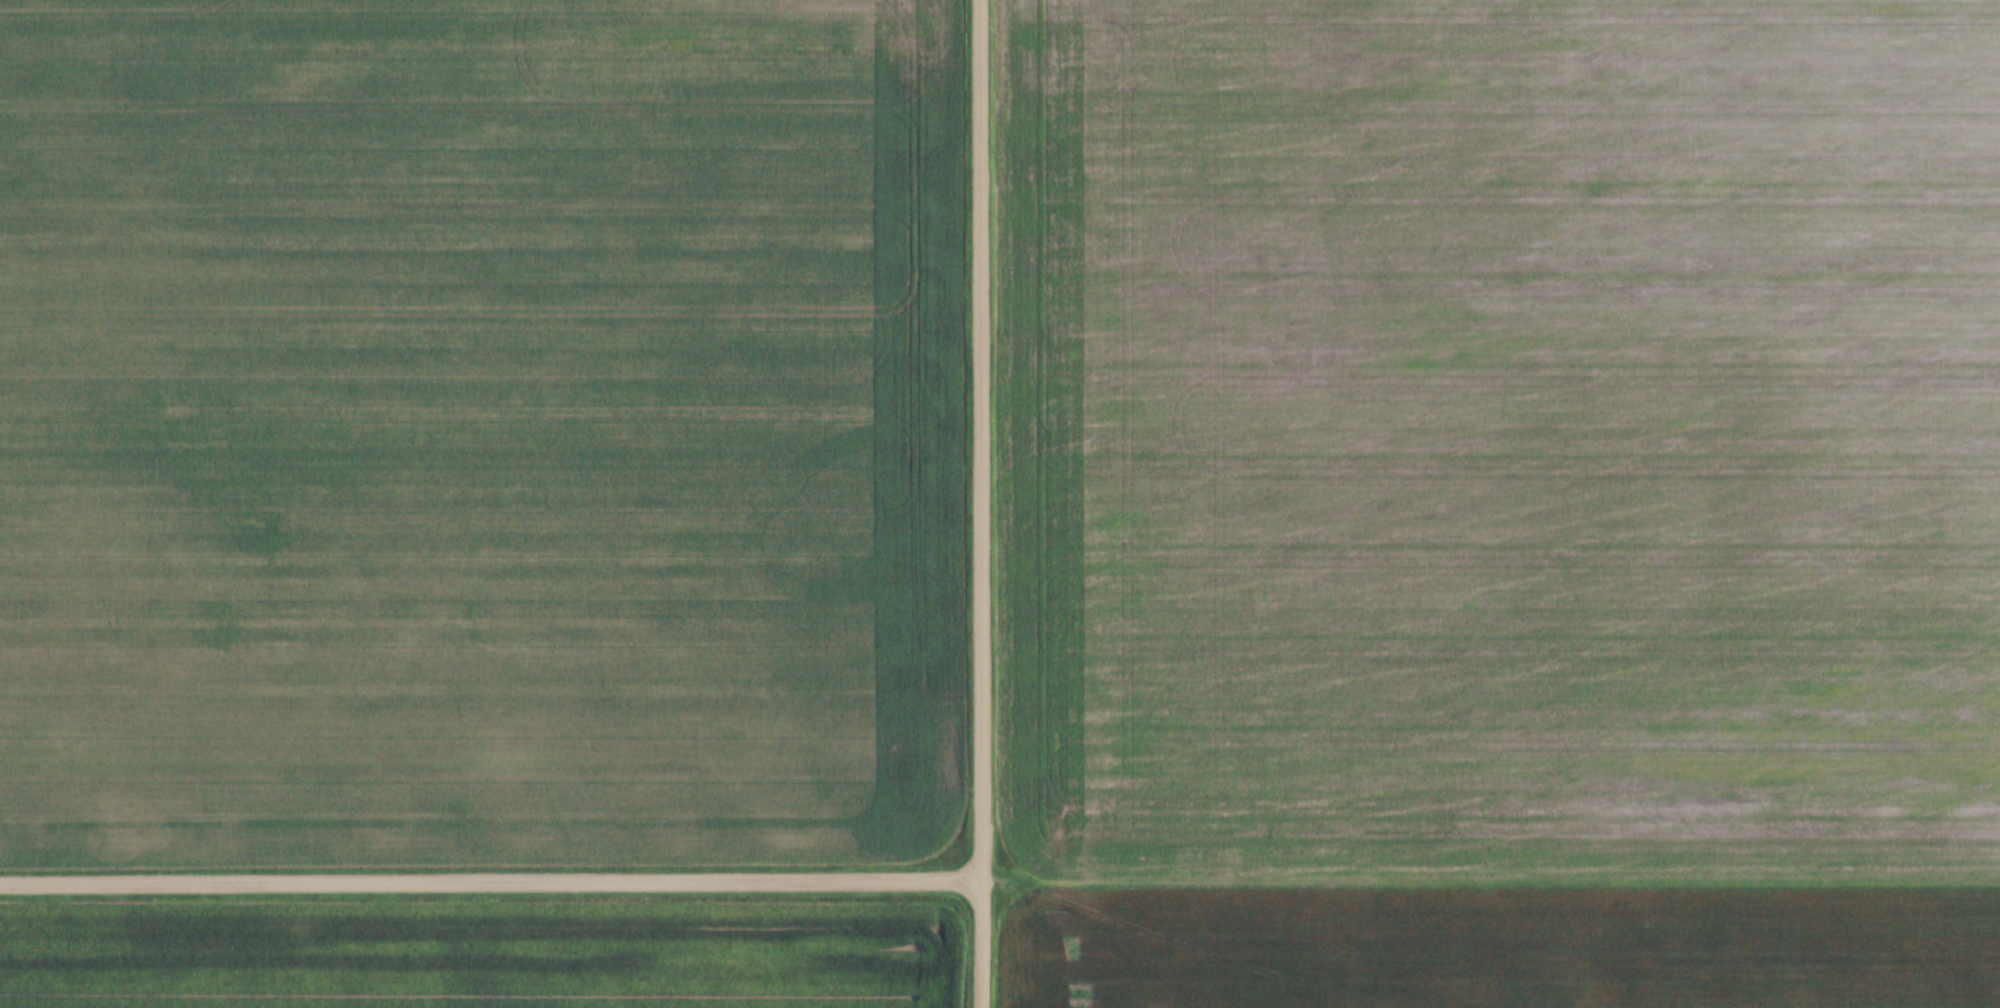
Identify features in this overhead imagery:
road: (979, 504)
road: (489, 880)

